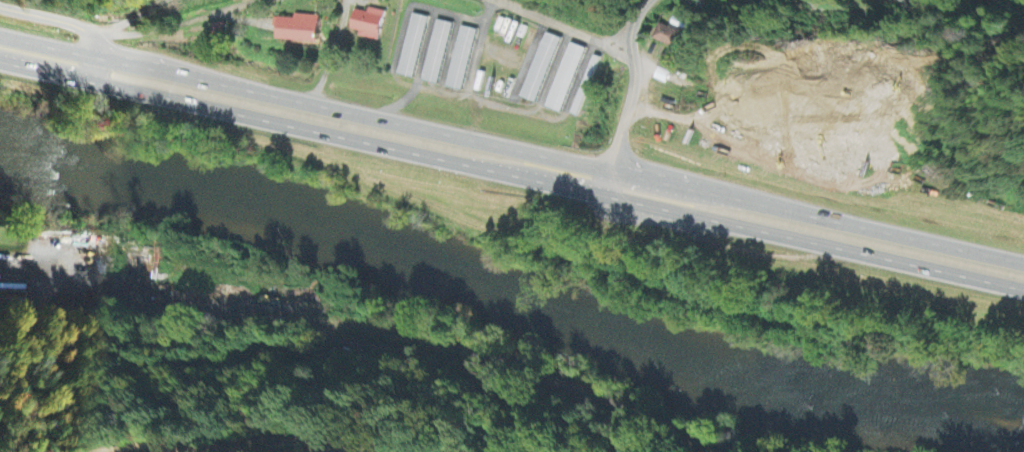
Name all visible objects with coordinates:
road: (634, 14)
road: (70, 20)
road: (124, 21)
road: (170, 22)
building: (368, 25)
road: (562, 26)
building: (296, 30)
building: (665, 37)
building: (412, 47)
building: (437, 53)
building: (461, 59)
building: (540, 69)
building: (667, 70)
building: (565, 79)
road: (626, 113)
road: (511, 148)
road: (511, 176)
river: (250, 218)
road: (301, 310)
railway: (378, 328)
river: (749, 362)
river: (1013, 416)

